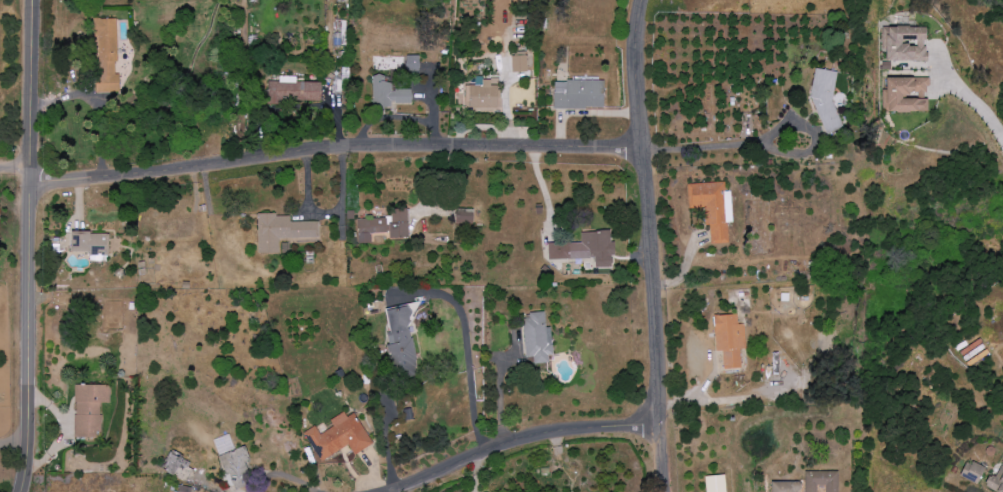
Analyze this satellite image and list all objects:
building: (903, 43)
building: (106, 56)
building: (518, 63)
building: (411, 64)
building: (292, 91)
building: (905, 93)
building: (388, 94)
building: (577, 94)
building: (481, 96)
road: (978, 102)
road: (717, 147)
road: (336, 149)
road: (16, 171)
road: (327, 214)
building: (464, 217)
building: (384, 226)
building: (281, 232)
building: (89, 244)
road: (648, 245)
road: (32, 246)
building: (584, 248)
building: (536, 337)
building: (727, 339)
building: (401, 343)
road: (469, 367)
road: (500, 405)
building: (89, 410)
building: (338, 437)
road: (385, 441)
road: (16, 443)
road: (525, 444)
building: (233, 464)
building: (971, 471)
road: (475, 476)
building: (997, 477)
building: (819, 481)
building: (715, 483)
building: (783, 486)
building: (184, 489)

